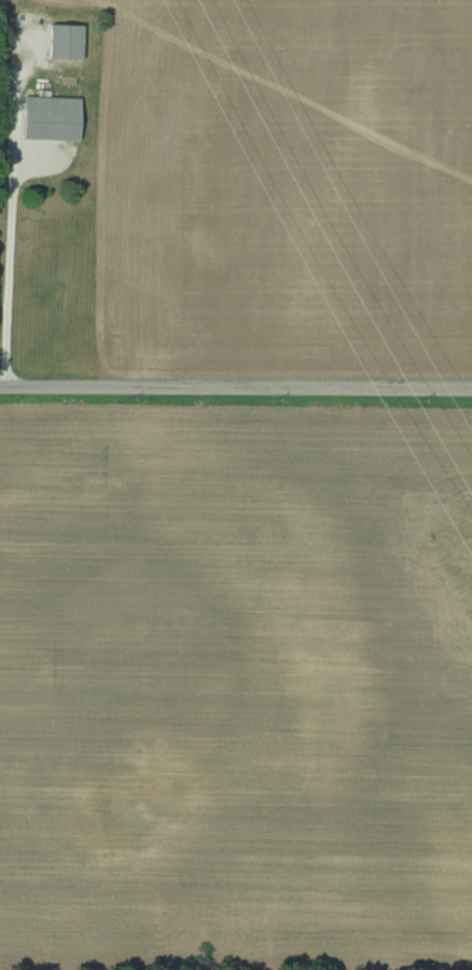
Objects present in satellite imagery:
building: (60, 41)
building: (39, 109)
road: (12, 209)
road: (235, 389)

